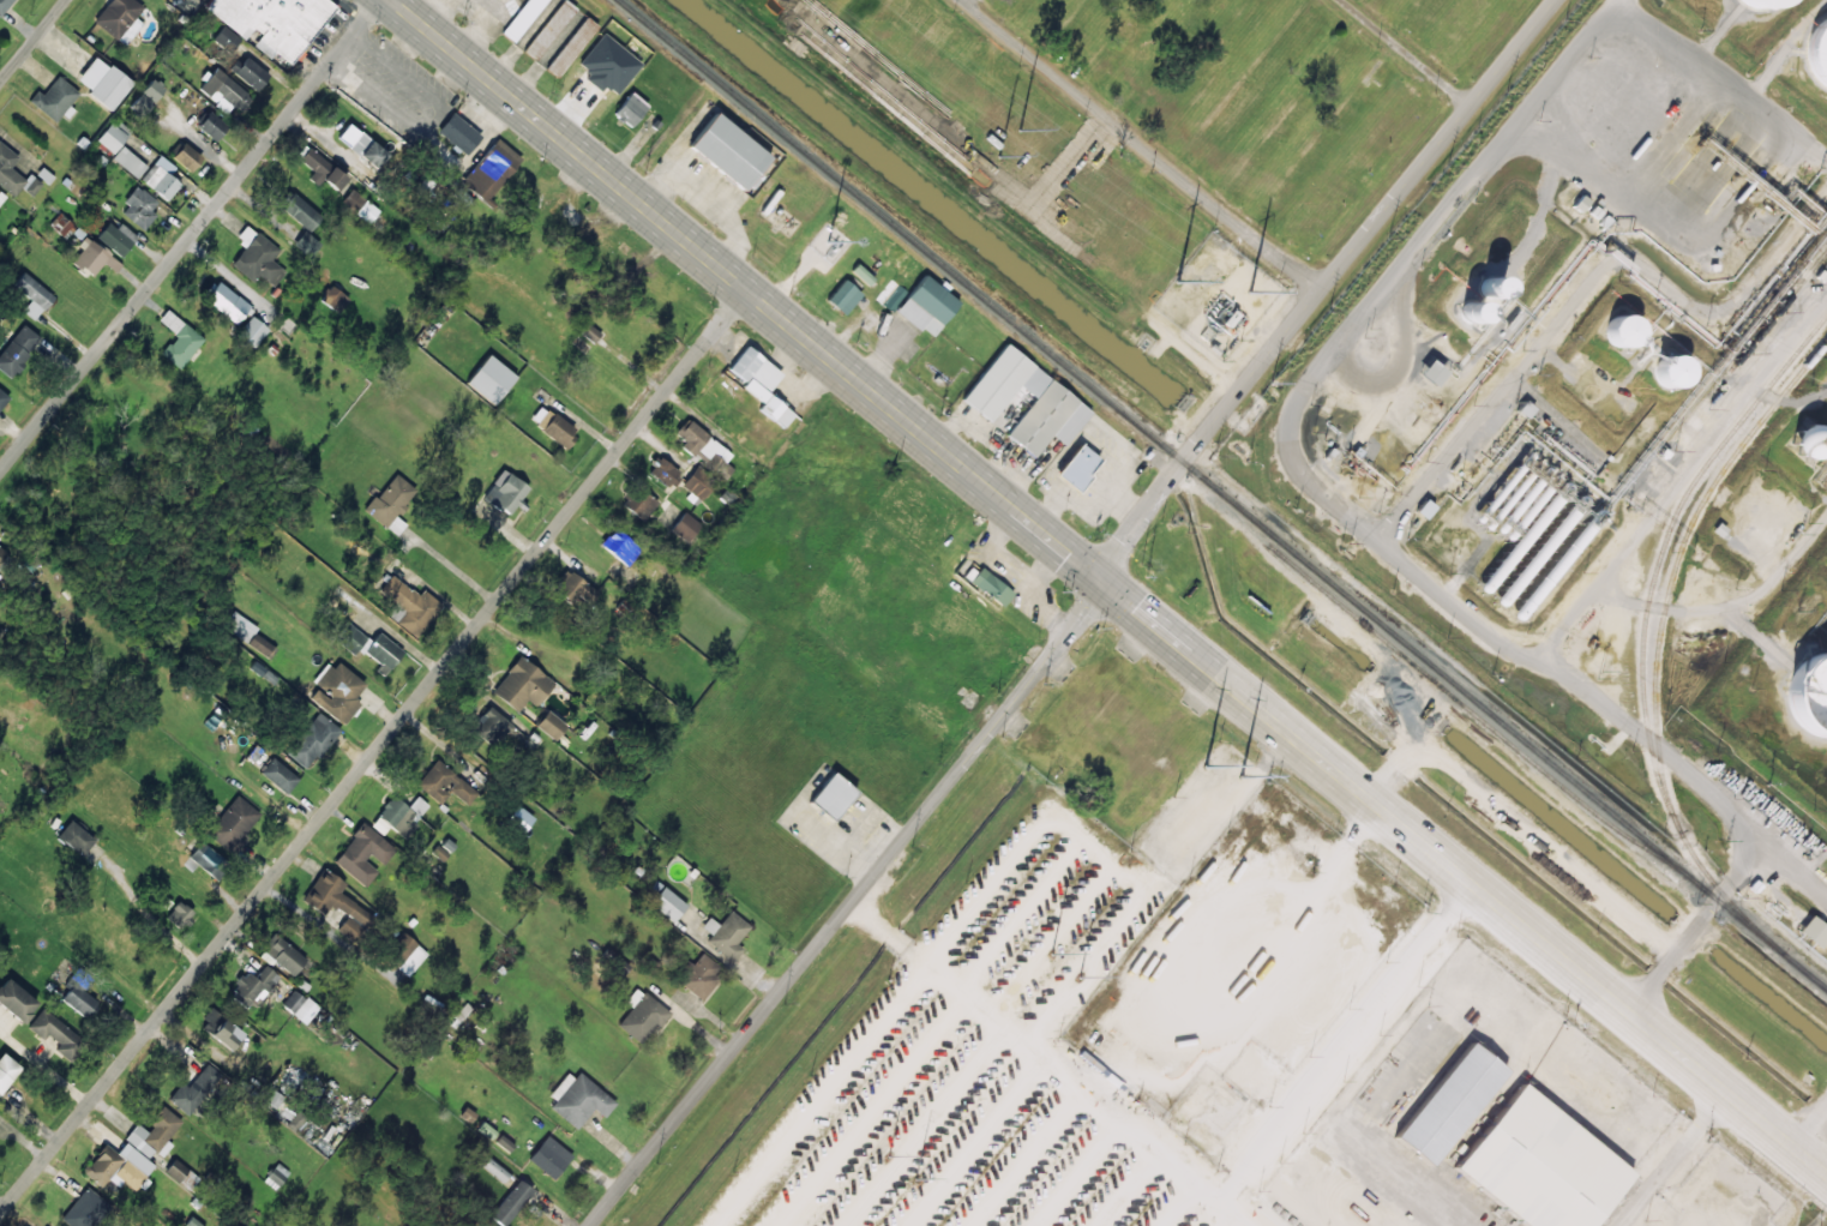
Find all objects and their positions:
road: (966, 0)
building: (4, 5)
building: (1745, 6)
building: (118, 16)
building: (522, 19)
building: (274, 22)
building: (548, 29)
building: (226, 38)
road: (32, 41)
building: (571, 47)
building: (1815, 50)
road: (1406, 53)
building: (248, 72)
building: (103, 82)
building: (223, 91)
building: (146, 96)
building: (54, 98)
building: (630, 109)
building: (212, 126)
building: (458, 133)
building: (112, 137)
building: (362, 145)
road: (1142, 145)
building: (723, 149)
building: (187, 156)
building: (130, 161)
building: (321, 169)
building: (491, 169)
building: (13, 174)
building: (161, 178)
building: (1, 196)
building: (1580, 204)
building: (360, 205)
building: (139, 208)
building: (301, 211)
building: (1594, 212)
building: (61, 226)
road: (190, 235)
building: (116, 236)
building: (94, 257)
building: (257, 257)
road: (1324, 286)
building: (1491, 286)
building: (32, 295)
building: (843, 296)
building: (333, 299)
building: (226, 301)
building: (927, 305)
building: (1471, 311)
building: (252, 331)
building: (1622, 331)
building: (589, 332)
building: (179, 339)
building: (17, 349)
building: (1671, 369)
building: (1430, 373)
building: (486, 374)
railway: (1724, 375)
building: (761, 383)
building: (2, 397)
building: (1057, 404)
building: (553, 426)
building: (1810, 441)
building: (704, 449)
building: (1077, 467)
building: (663, 471)
railway: (1203, 479)
building: (698, 482)
building: (505, 492)
building: (389, 503)
building: (643, 504)
building: (1424, 510)
building: (685, 527)
building: (619, 546)
building: (2, 553)
road: (1014, 571)
traffic signals: (1101, 579)
building: (991, 587)
road: (1110, 587)
building: (409, 606)
building: (240, 626)
building: (351, 639)
building: (259, 644)
building: (383, 651)
railway: (1641, 656)
road: (1555, 669)
building: (522, 684)
building: (337, 691)
building: (1810, 696)
storage tank: (1810, 696)
building: (551, 725)
building: (491, 726)
building: (313, 740)
road: (373, 750)
building: (278, 775)
building: (444, 783)
building: (831, 795)
building: (399, 816)
building: (519, 818)
building: (233, 823)
road: (1520, 824)
building: (74, 837)
building: (439, 852)
building: (362, 854)
road: (1791, 857)
building: (206, 859)
building: (337, 903)
building: (667, 903)
road: (848, 905)
building: (179, 914)
building: (1814, 931)
building: (726, 934)
building: (283, 955)
building: (402, 956)
building: (618, 969)
building: (698, 974)
building: (252, 986)
building: (16, 1000)
building: (79, 1000)
building: (296, 1004)
building: (642, 1015)
building: (221, 1029)
building: (58, 1034)
building: (6, 1070)
building: (194, 1088)
building: (578, 1099)
building: (1192, 1101)
building: (1449, 1104)
road: (1808, 1119)
building: (154, 1134)
building: (1204, 1138)
building: (549, 1156)
building: (119, 1165)
building: (1532, 1167)
building: (181, 1173)
building: (276, 1176)
building: (511, 1202)
building: (84, 1208)
building: (192, 1222)
building: (487, 1225)

